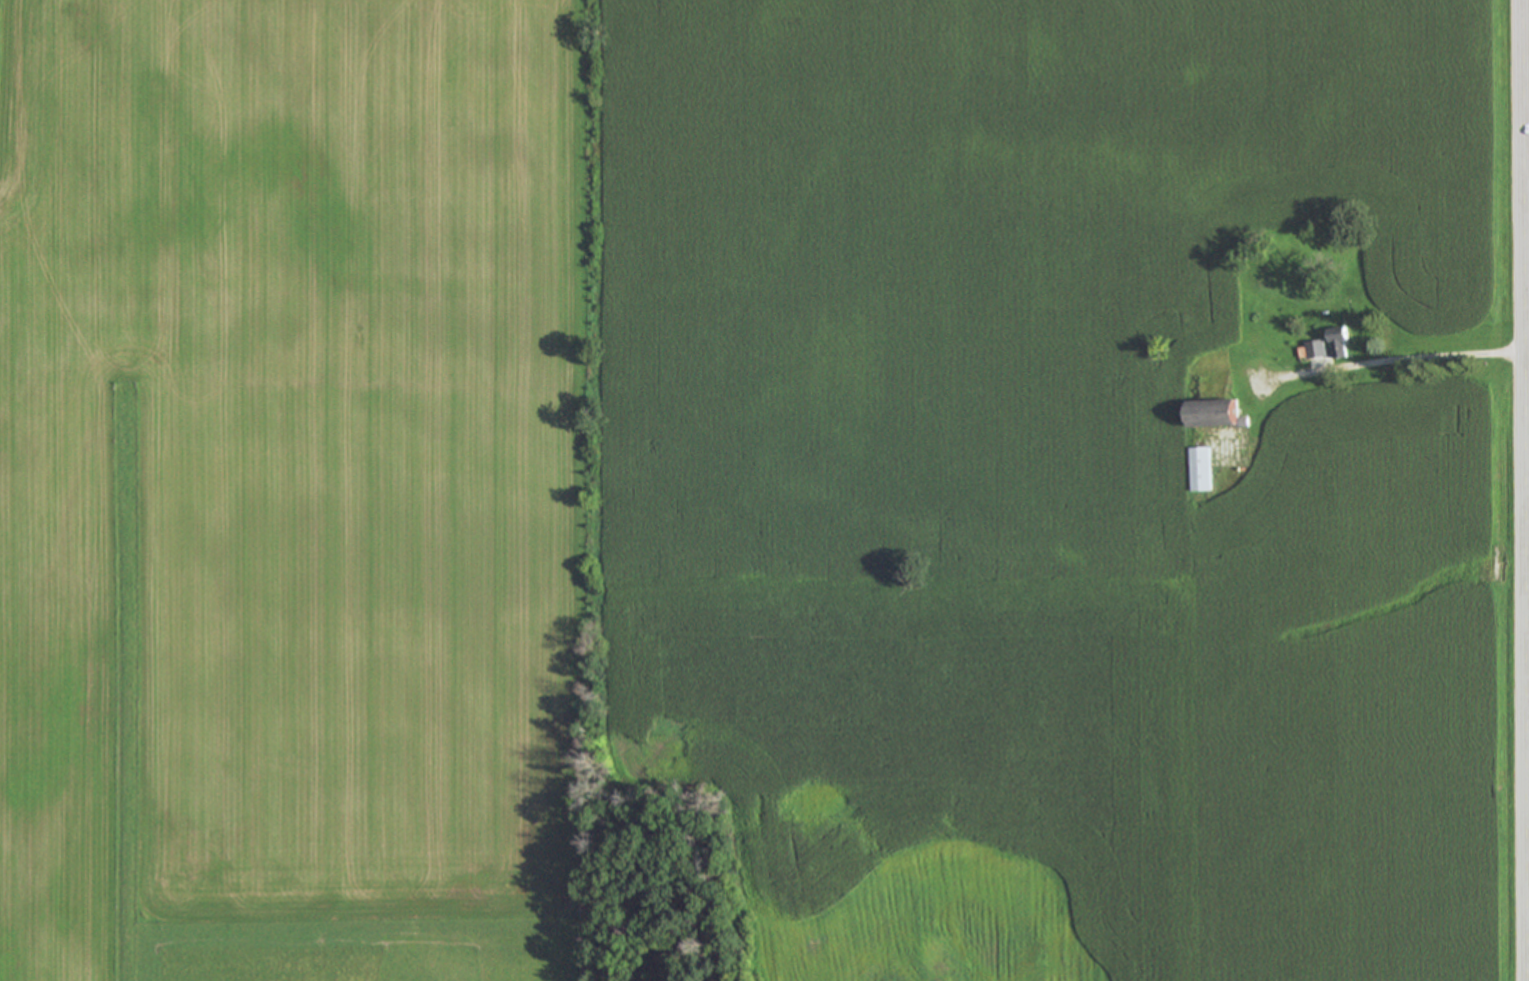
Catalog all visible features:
building: (1332, 349)
road: (1392, 360)
road: (1526, 376)
building: (1222, 416)
building: (1206, 472)
road: (1524, 490)

